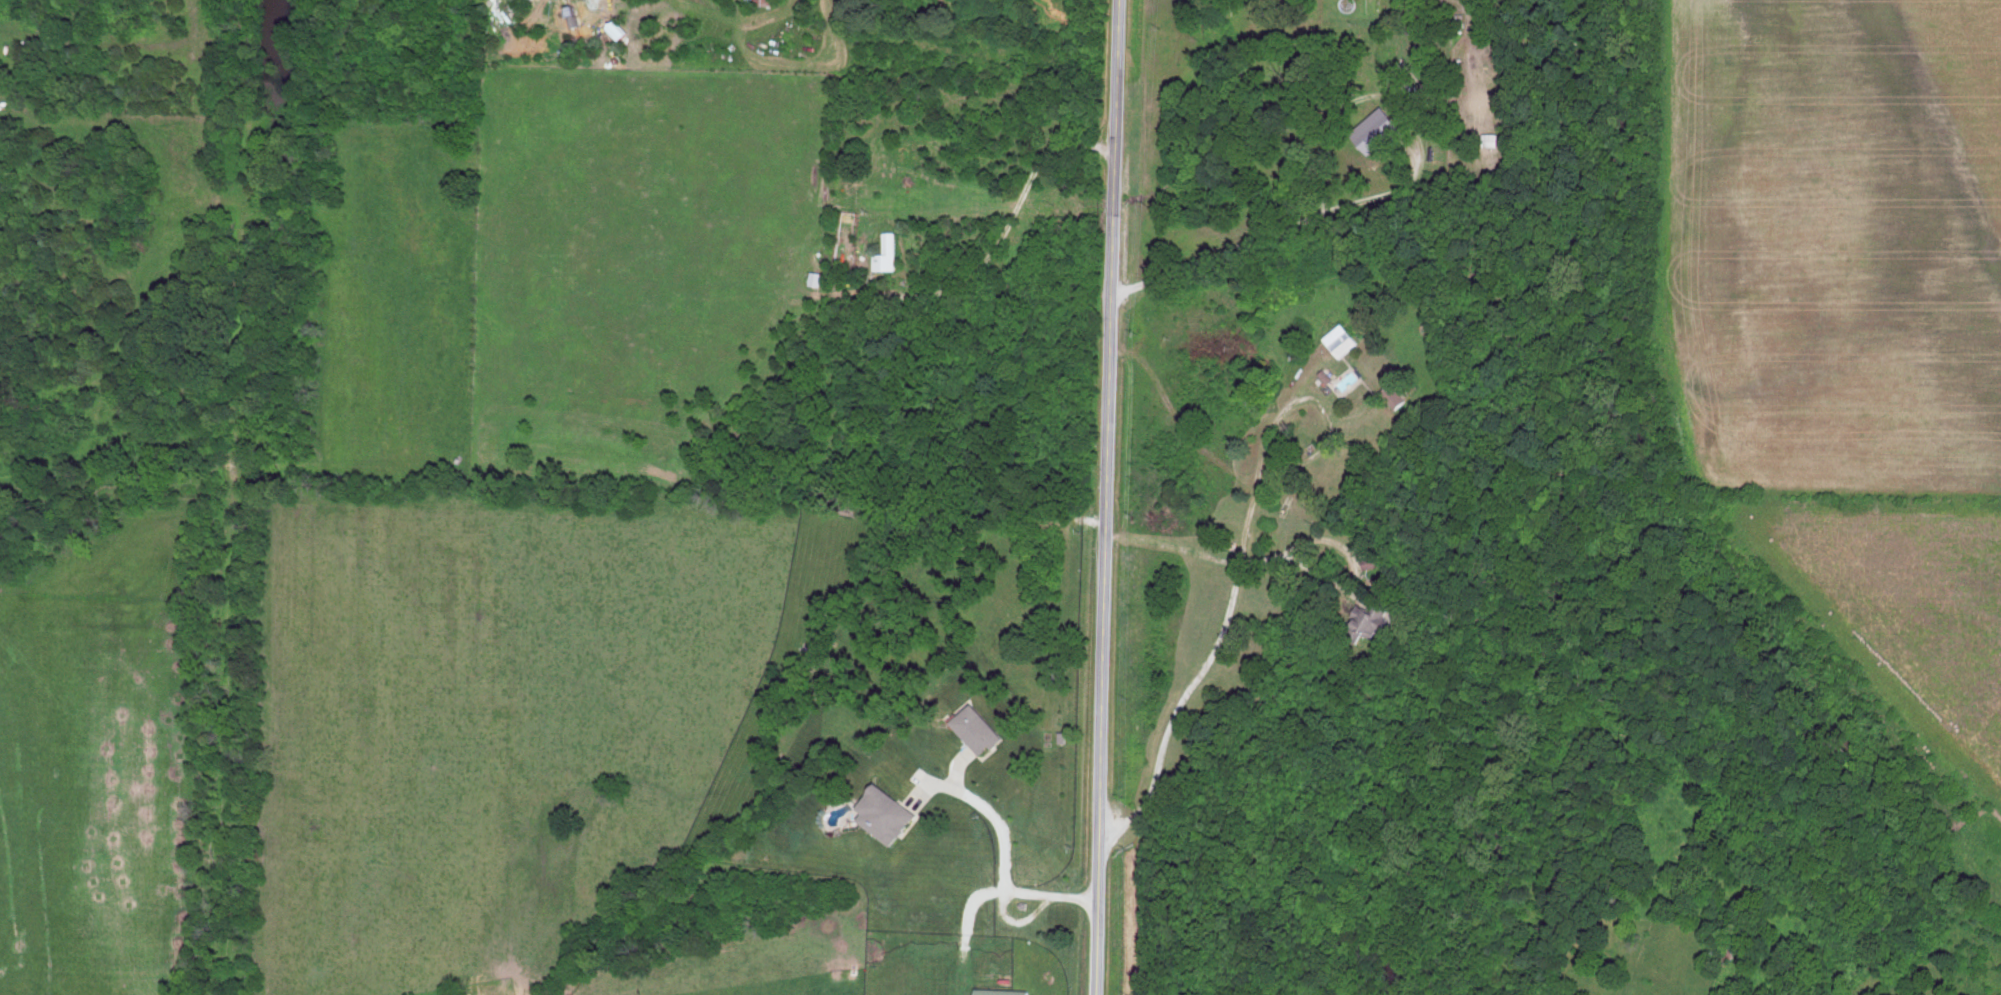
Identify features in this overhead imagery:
building: (772, 1)
building: (1378, 129)
building: (888, 252)
building: (816, 277)
building: (1342, 339)
building: (1395, 397)
railway: (229, 497)
road: (1105, 497)
building: (1374, 615)
road: (1200, 673)
building: (978, 728)
building: (888, 813)
road: (1003, 869)
building: (1004, 991)

